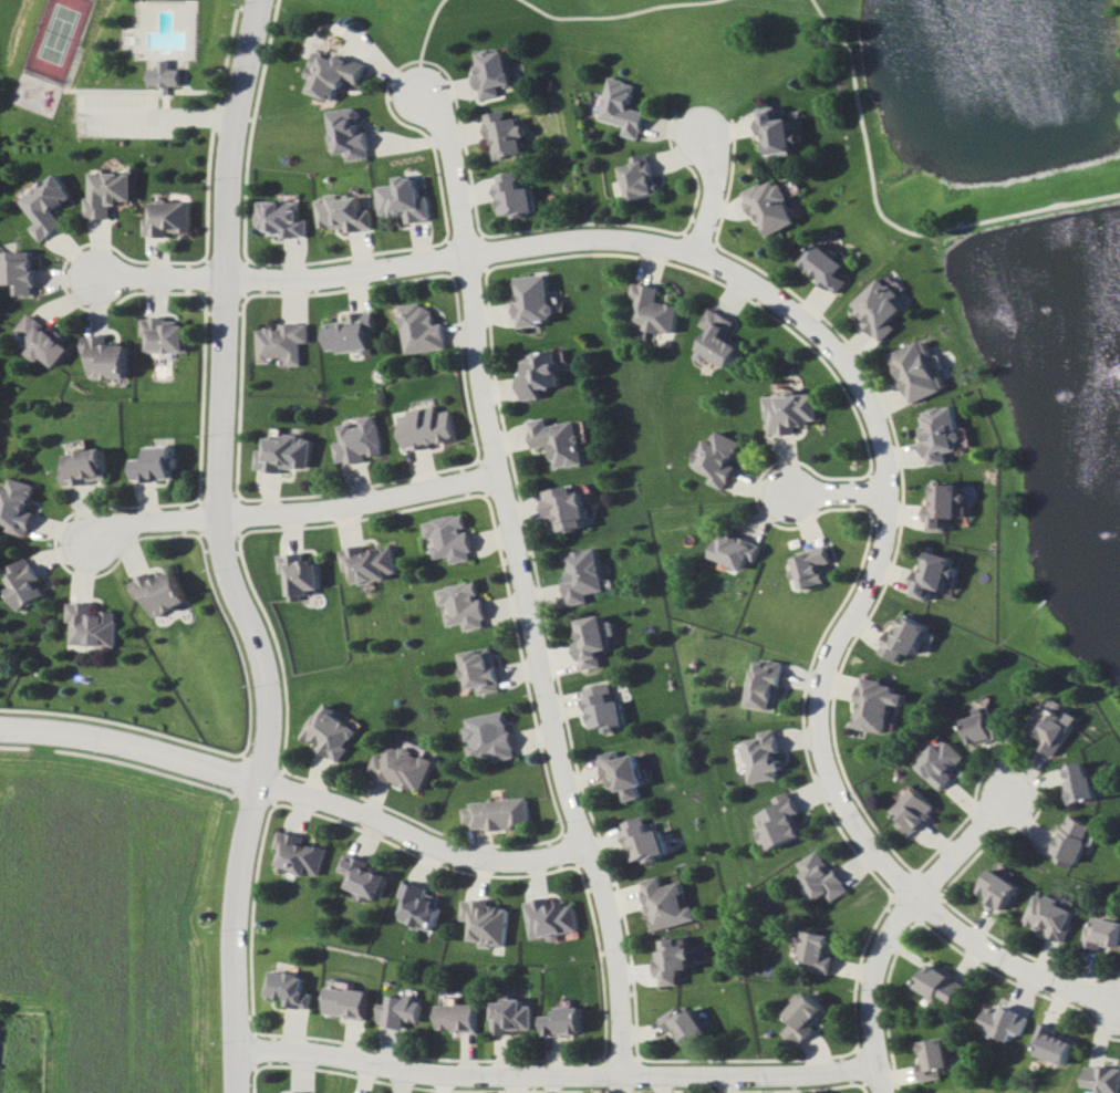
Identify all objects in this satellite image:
road: (618, 15)
road: (425, 45)
building: (495, 72)
building: (335, 73)
building: (167, 74)
building: (621, 107)
road: (162, 111)
building: (776, 131)
building: (350, 133)
building: (507, 135)
building: (111, 191)
road: (716, 191)
building: (517, 194)
building: (407, 199)
building: (770, 205)
building: (50, 206)
building: (346, 212)
building: (170, 218)
building: (282, 218)
road: (885, 220)
road: (402, 266)
building: (827, 266)
building: (24, 270)
building: (536, 301)
building: (881, 305)
building: (653, 309)
building: (425, 329)
building: (354, 333)
building: (167, 334)
building: (48, 340)
building: (718, 340)
building: (283, 342)
building: (110, 357)
building: (919, 371)
building: (542, 373)
building: (790, 412)
building: (431, 427)
building: (942, 434)
building: (362, 440)
building: (561, 441)
building: (289, 452)
building: (718, 458)
building: (92, 467)
road: (839, 492)
building: (24, 506)
building: (945, 506)
building: (569, 508)
road: (292, 513)
building: (453, 537)
building: (734, 550)
road: (231, 551)
road: (883, 554)
building: (373, 562)
building: (810, 566)
building: (305, 574)
building: (584, 575)
building: (935, 575)
building: (32, 583)
road: (527, 583)
building: (168, 592)
building: (467, 605)
building: (98, 625)
building: (597, 638)
building: (906, 638)
building: (485, 669)
building: (766, 684)
building: (879, 704)
building: (609, 707)
building: (987, 727)
building: (1054, 728)
building: (338, 732)
building: (494, 736)
building: (765, 757)
building: (943, 761)
building: (409, 763)
building: (626, 773)
building: (1086, 782)
road: (297, 789)
building: (917, 811)
building: (499, 813)
building: (782, 821)
building: (646, 840)
building: (1074, 840)
road: (967, 846)
building: (307, 855)
building: (370, 876)
building: (822, 876)
building: (998, 888)
building: (668, 904)
building: (423, 905)
building: (1050, 916)
building: (553, 918)
building: (489, 922)
building: (1102, 933)
building: (818, 950)
building: (677, 959)
road: (1015, 960)
building: (941, 983)
building: (292, 989)
road: (874, 990)
building: (349, 1000)
building: (403, 1011)
building: (515, 1014)
building: (462, 1017)
building: (806, 1018)
building: (570, 1021)
building: (1004, 1022)
building: (687, 1023)
building: (934, 1059)
road: (554, 1074)
building: (1103, 1078)
building: (301, 1092)

